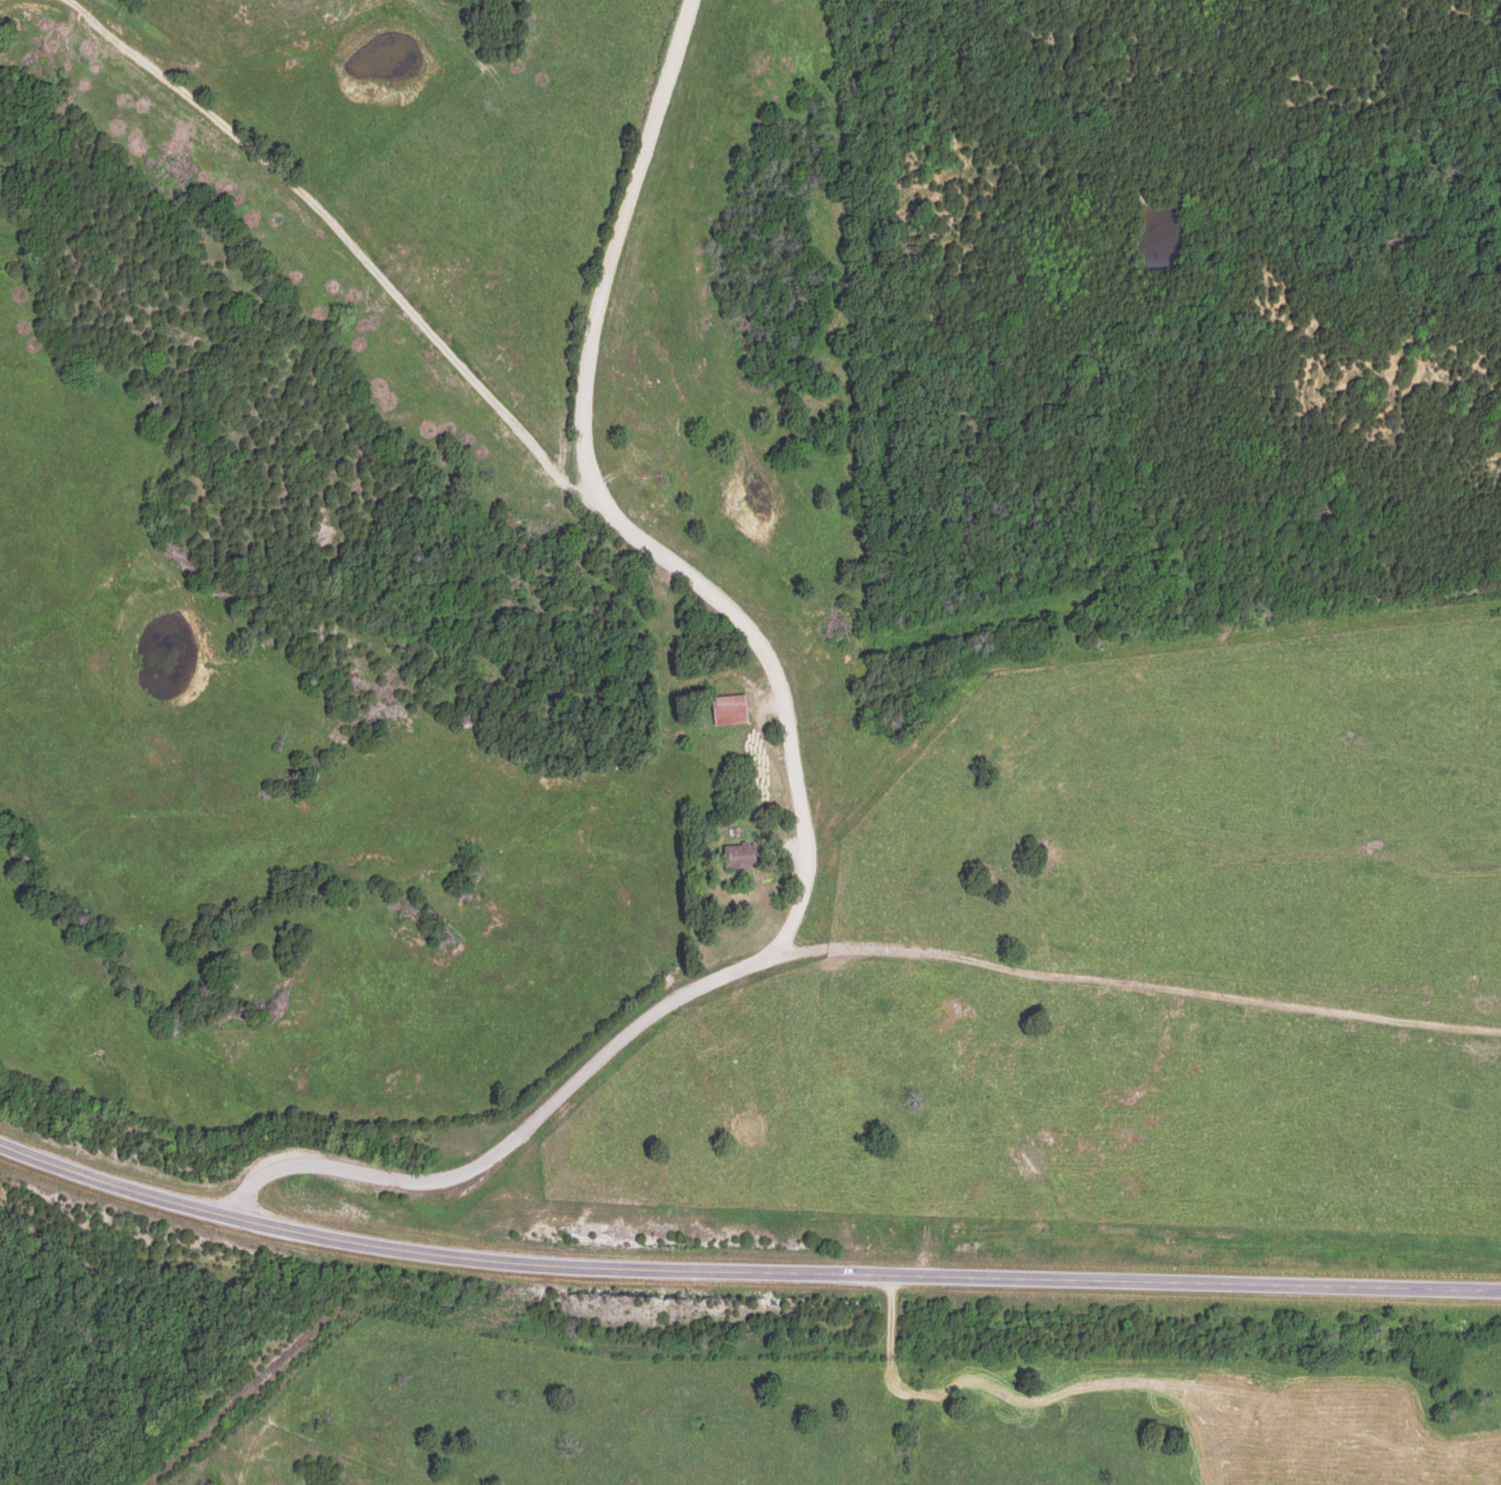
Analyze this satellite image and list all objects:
road: (624, 238)
building: (734, 712)
building: (744, 858)
road: (739, 963)
road: (743, 1263)
road: (299, 1389)

